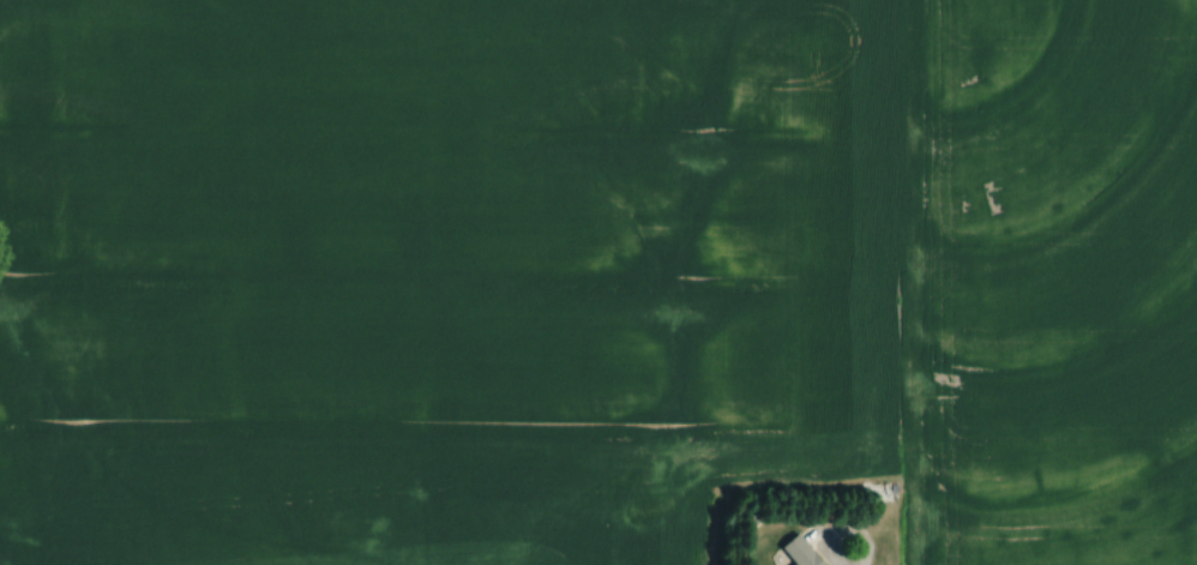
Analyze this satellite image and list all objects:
building: (807, 551)

